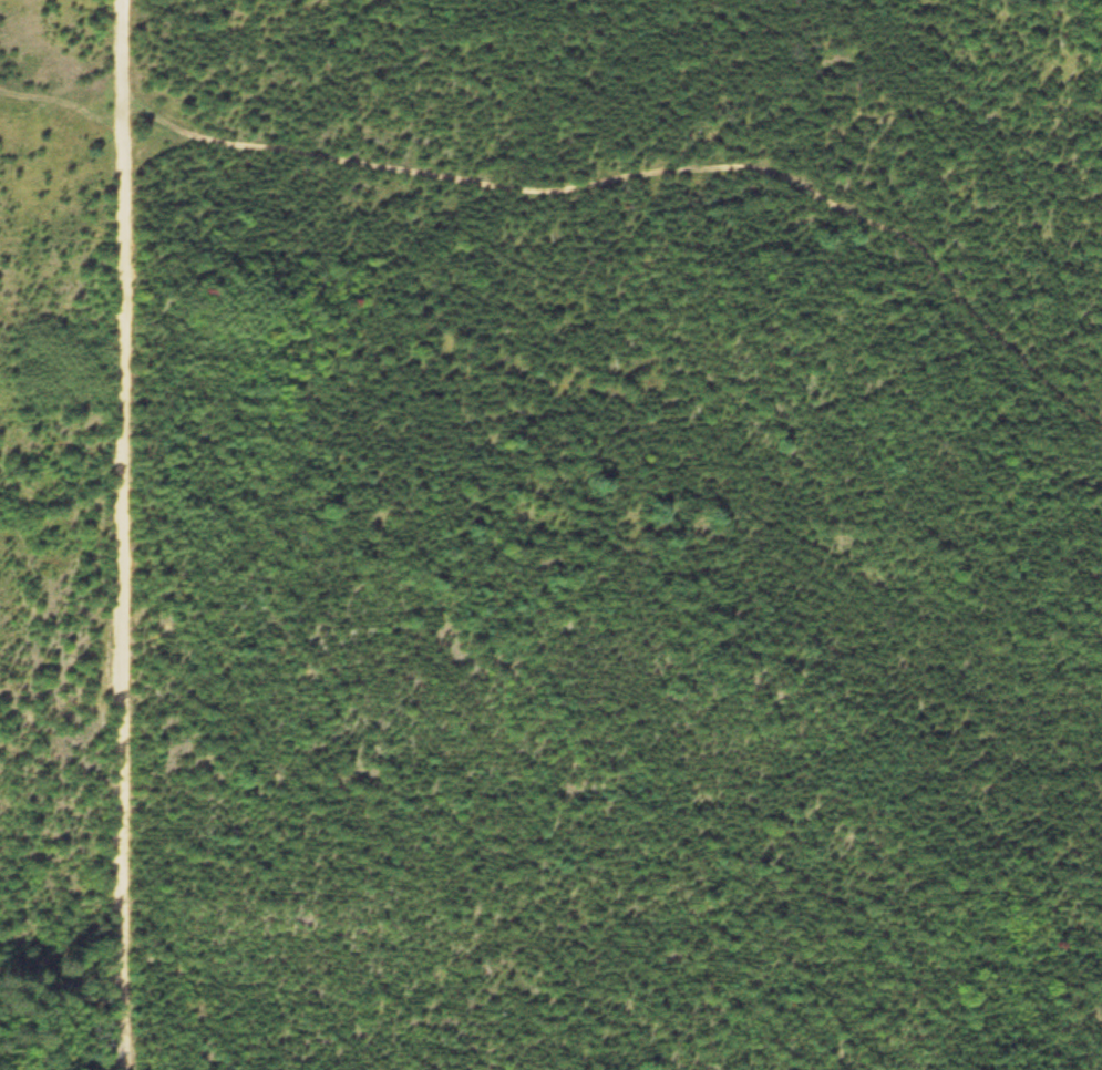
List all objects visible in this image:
road: (64, 104)
road: (646, 175)
road: (127, 534)

